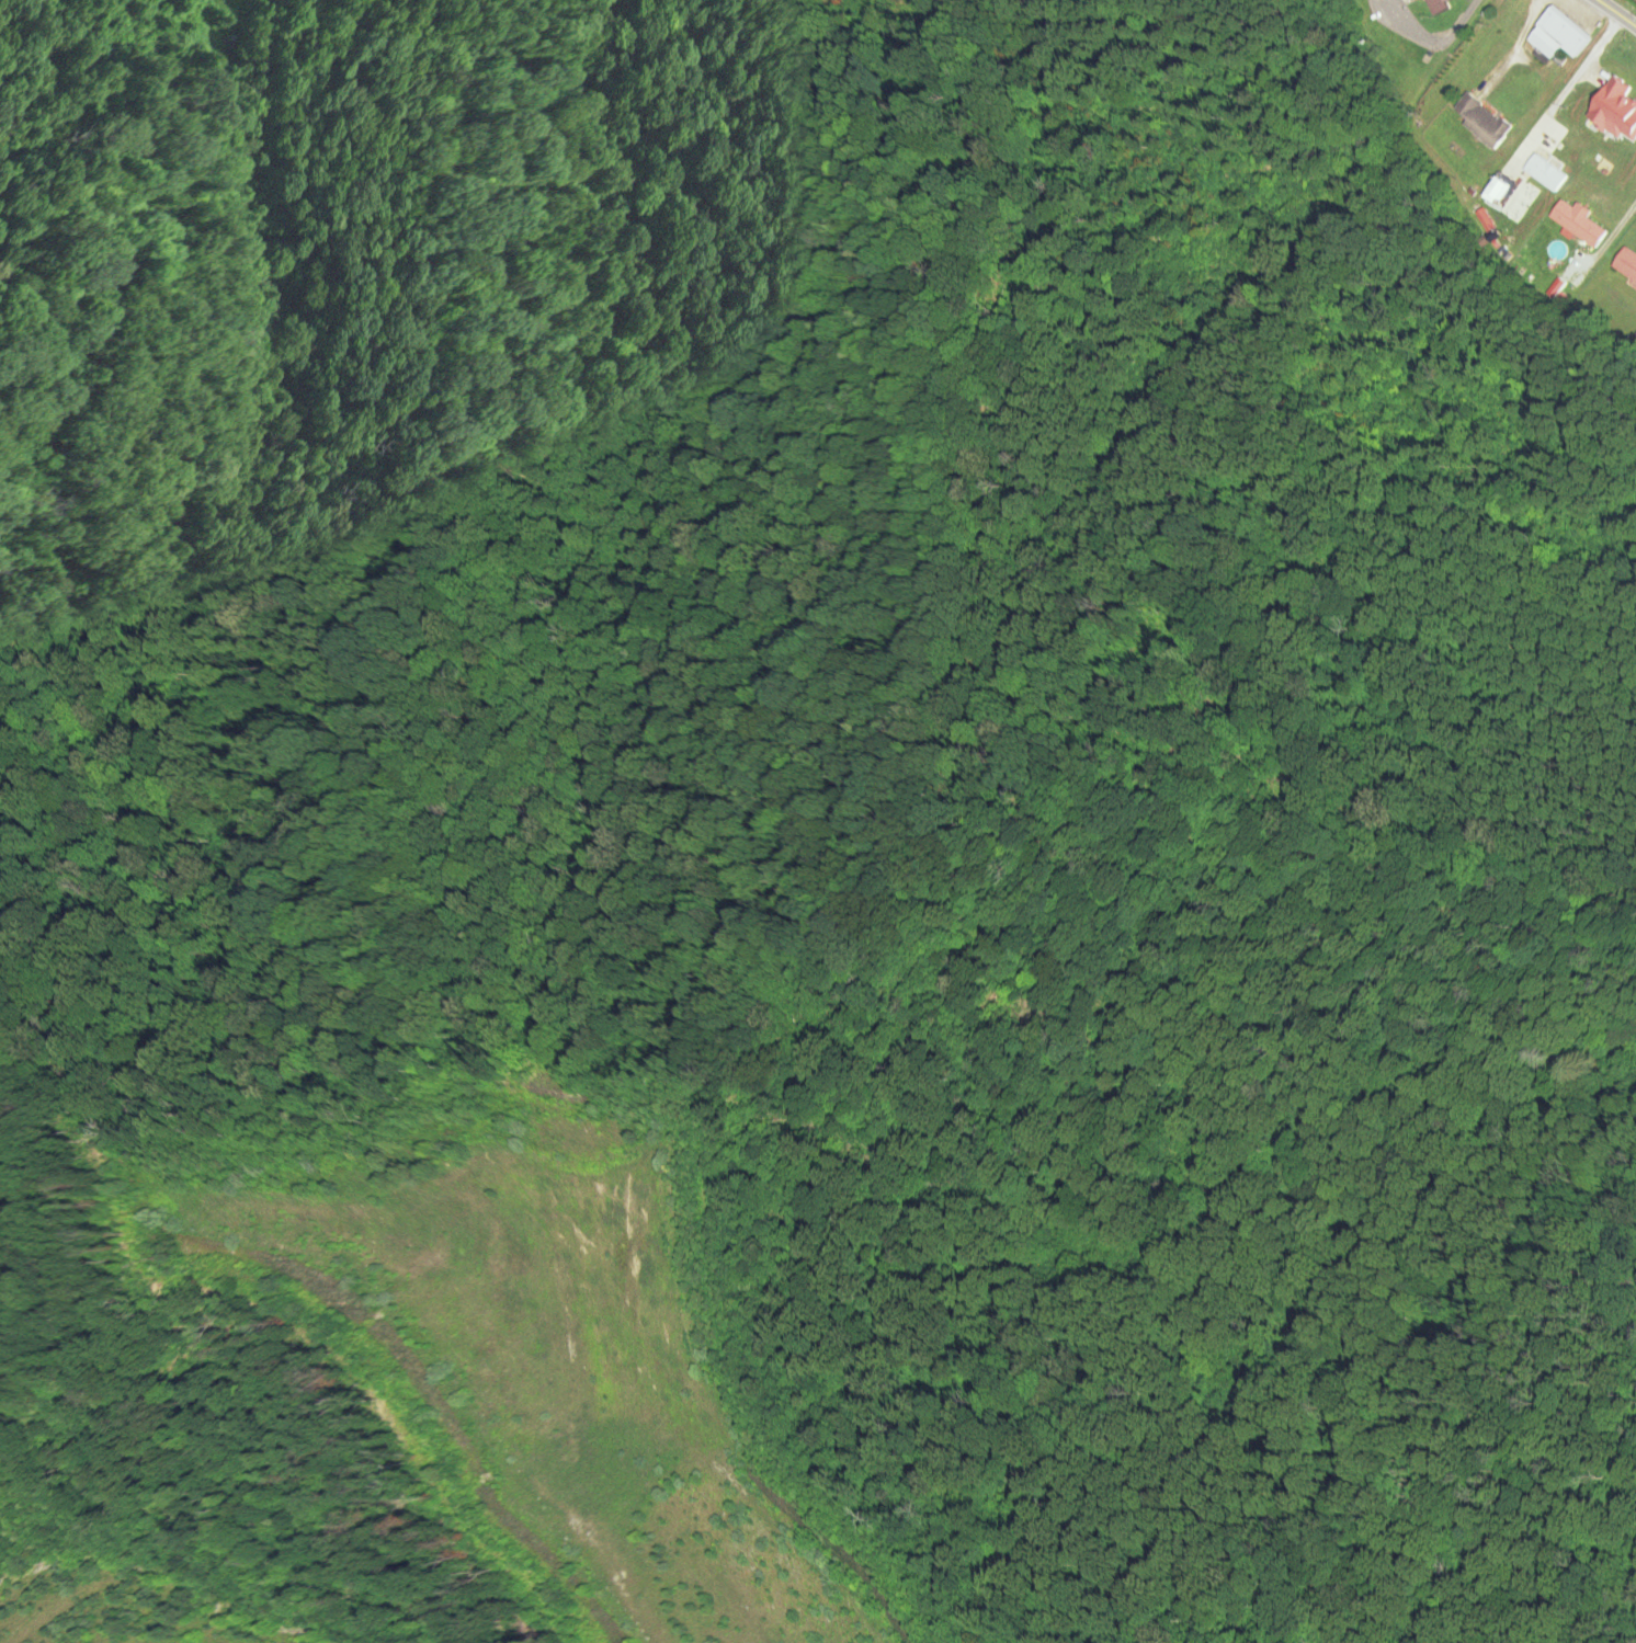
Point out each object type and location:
building: (1435, 7)
road: (736, 21)
road: (1605, 22)
road: (1461, 23)
building: (1556, 36)
road: (1564, 90)
building: (1615, 112)
building: (1480, 123)
building: (1544, 173)
building: (1496, 192)
building: (1576, 224)
road: (1621, 225)
building: (1626, 264)
quarry: (492, 1359)
quarry: (143, 1585)

